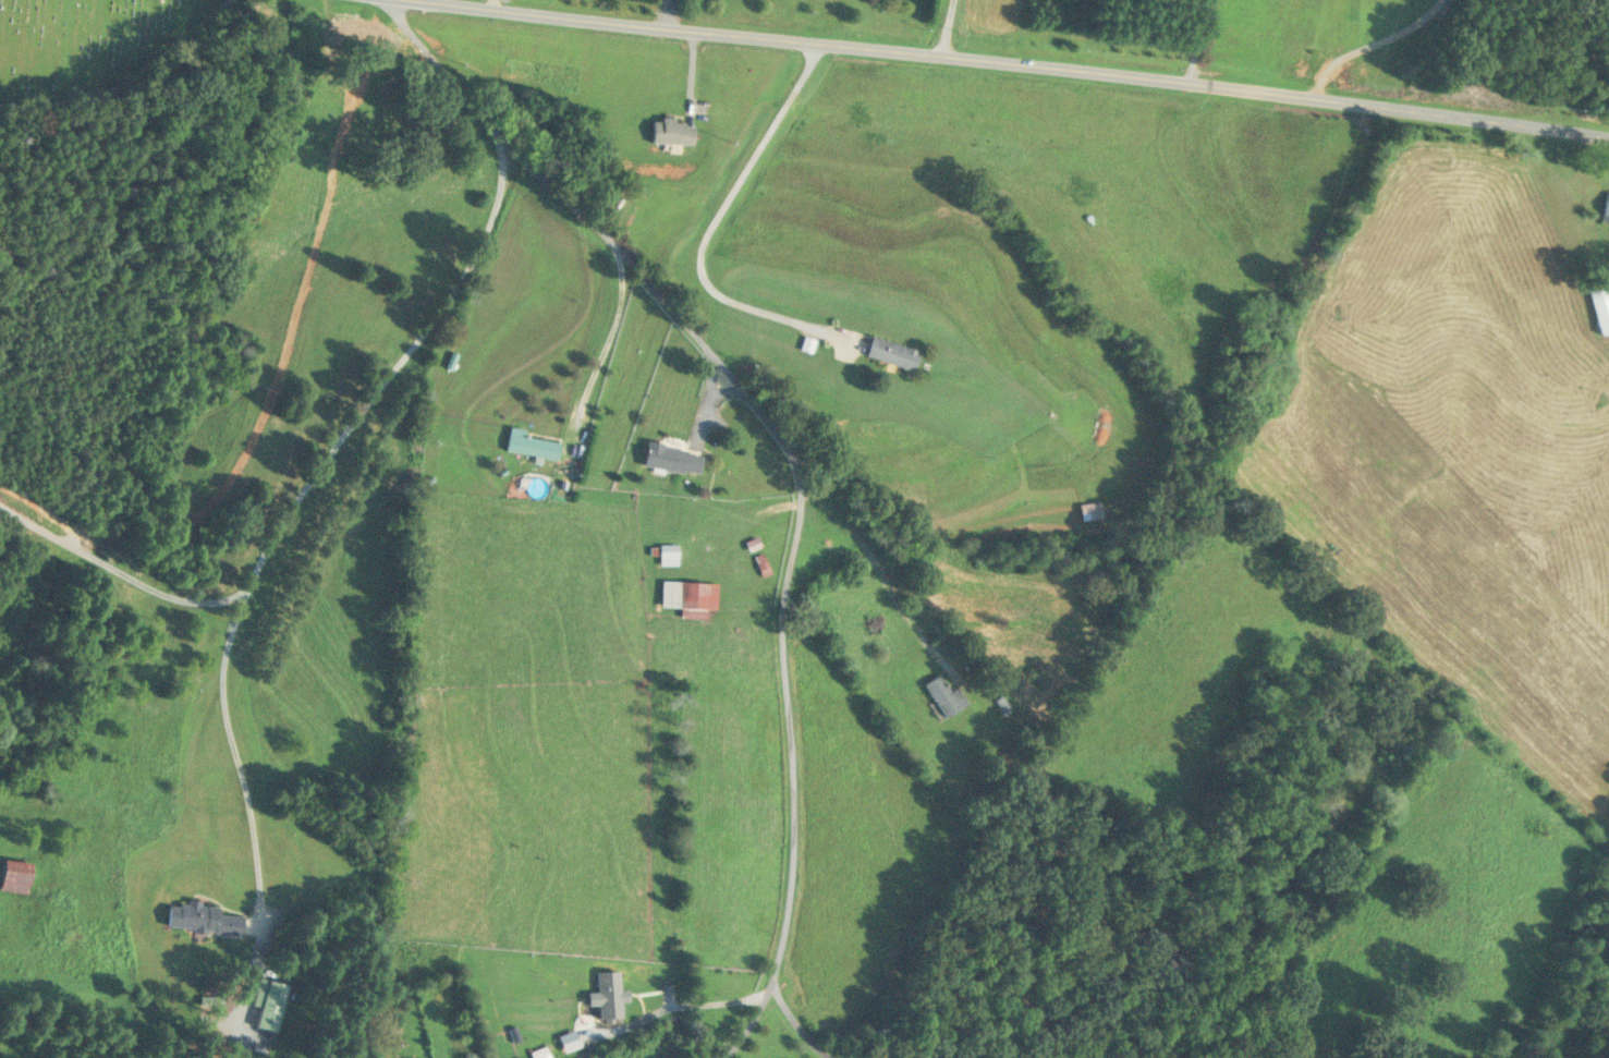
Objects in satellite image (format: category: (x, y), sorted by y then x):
road: (493, 3)
road: (669, 11)
road: (1195, 42)
road: (1370, 44)
park: (93, 48)
road: (1004, 64)
building: (370, 76)
building: (671, 132)
building: (1606, 209)
road: (710, 221)
building: (1600, 305)
road: (606, 344)
building: (891, 353)
building: (532, 447)
building: (672, 460)
road: (791, 461)
building: (1088, 510)
road: (264, 549)
building: (668, 559)
building: (760, 564)
road: (117, 570)
road: (882, 574)
building: (687, 597)
building: (943, 695)
building: (14, 875)
building: (200, 917)
building: (268, 1002)
road: (672, 1007)
road: (796, 1025)

